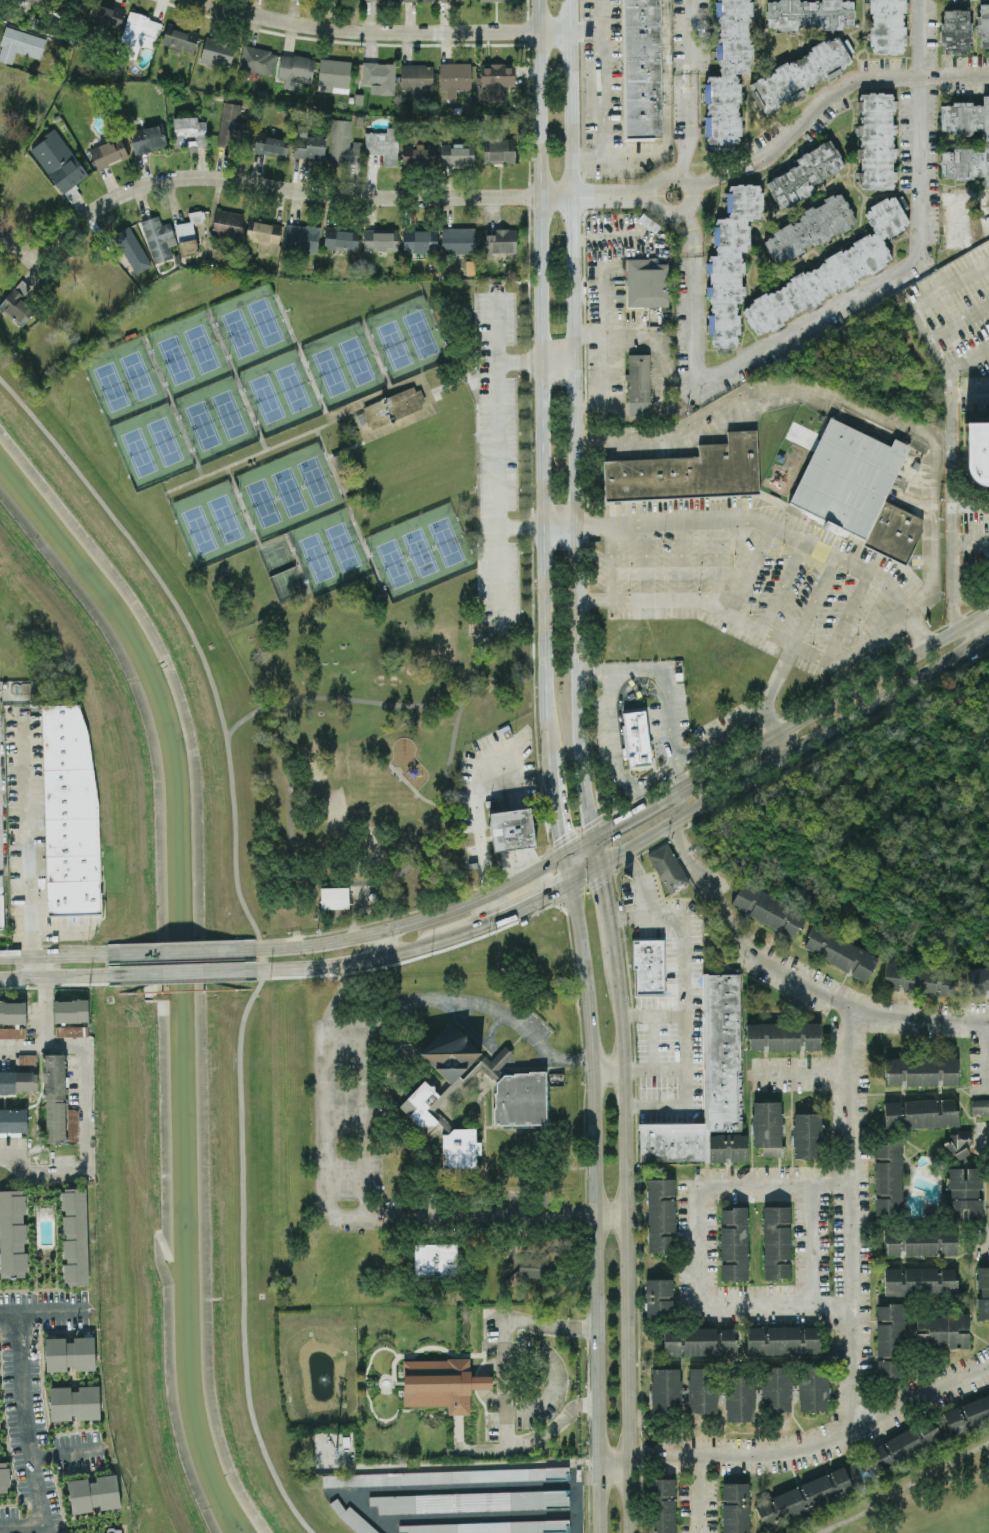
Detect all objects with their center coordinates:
building: (386, 0)
building: (418, 0)
building: (442, 0)
building: (495, 0)
building: (37, 1)
building: (810, 14)
building: (106, 15)
building: (983, 25)
building: (887, 26)
road: (385, 32)
road: (586, 32)
building: (956, 32)
building: (138, 34)
building: (180, 38)
building: (20, 44)
building: (216, 52)
building: (257, 60)
building: (644, 68)
building: (295, 70)
building: (802, 73)
building: (728, 74)
building: (334, 75)
building: (379, 77)
building: (417, 77)
building: (454, 78)
road: (602, 79)
road: (691, 87)
road: (829, 98)
building: (57, 118)
building: (231, 120)
road: (668, 123)
building: (189, 131)
building: (148, 138)
building: (986, 140)
building: (876, 141)
building: (270, 142)
building: (343, 144)
building: (383, 145)
building: (309, 146)
building: (499, 150)
building: (108, 153)
building: (418, 155)
building: (457, 155)
building: (60, 164)
building: (804, 175)
road: (642, 191)
road: (315, 194)
road: (640, 198)
road: (672, 215)
building: (960, 215)
building: (228, 223)
building: (808, 230)
building: (188, 234)
building: (264, 235)
road: (601, 236)
building: (158, 238)
building: (301, 238)
building: (341, 239)
building: (380, 240)
building: (458, 240)
building: (420, 241)
building: (501, 241)
building: (131, 249)
road: (28, 258)
building: (730, 263)
building: (830, 271)
building: (647, 283)
road: (604, 292)
road: (845, 298)
building: (17, 304)
road: (959, 320)
park: (406, 339)
road: (375, 356)
road: (943, 358)
road: (301, 359)
park: (265, 361)
road: (969, 361)
road: (534, 363)
park: (342, 367)
road: (607, 367)
building: (639, 379)
road: (236, 380)
road: (450, 382)
road: (539, 385)
park: (200, 387)
road: (971, 393)
road: (844, 401)
road: (356, 403)
road: (170, 407)
building: (392, 408)
park: (137, 415)
road: (572, 419)
parking lot: (495, 450)
building: (982, 451)
road: (496, 456)
building: (689, 473)
building: (849, 477)
road: (347, 510)
road: (416, 512)
park: (305, 517)
road: (742, 517)
park: (211, 525)
road: (461, 527)
road: (971, 542)
road: (257, 545)
road: (953, 552)
park: (418, 553)
park: (346, 555)
road: (681, 561)
road: (611, 562)
road: (645, 562)
road: (715, 562)
road: (751, 568)
park: (280, 572)
road: (784, 584)
road: (815, 600)
road: (847, 614)
road: (749, 624)
road: (969, 634)
road: (661, 680)
road: (337, 698)
road: (835, 700)
road: (768, 725)
road: (735, 728)
road: (829, 729)
building: (636, 737)
road: (781, 745)
road: (615, 756)
road: (411, 786)
road: (1, 795)
road: (2, 795)
road: (638, 799)
road: (478, 804)
road: (559, 812)
building: (70, 813)
road: (638, 813)
park: (882, 823)
building: (512, 828)
traffic signals: (594, 837)
road: (28, 839)
road: (580, 845)
road: (633, 846)
road: (596, 853)
traffic signals: (566, 854)
road: (568, 868)
building: (668, 868)
traffic signals: (599, 870)
road: (585, 876)
road: (388, 877)
road: (639, 882)
traffic signals: (571, 883)
building: (1, 902)
building: (335, 902)
building: (768, 909)
road: (609, 918)
road: (415, 921)
road: (254, 929)
road: (382, 943)
road: (416, 946)
road: (180, 950)
building: (841, 952)
road: (54, 955)
road: (39, 967)
building: (649, 967)
road: (179, 973)
road: (52, 978)
river: (176, 978)
road: (793, 978)
building: (919, 980)
building: (979, 980)
park: (168, 989)
road: (682, 1002)
road: (481, 1005)
building: (71, 1010)
road: (40, 1011)
building: (12, 1012)
road: (650, 1014)
parking lot: (534, 1022)
road: (491, 1030)
building: (69, 1031)
building: (12, 1032)
building: (784, 1036)
road: (653, 1041)
building: (452, 1053)
road: (493, 1053)
road: (984, 1054)
building: (27, 1060)
road: (652, 1069)
road: (608, 1071)
road: (800, 1071)
building: (921, 1071)
building: (18, 1082)
building: (709, 1089)
building: (55, 1098)
building: (521, 1100)
building: (980, 1106)
building: (423, 1107)
road: (329, 1111)
building: (920, 1113)
building: (12, 1119)
road: (78, 1127)
parking lot: (348, 1127)
building: (768, 1127)
building: (807, 1135)
road: (983, 1138)
road: (413, 1143)
building: (957, 1145)
building: (461, 1150)
road: (483, 1151)
building: (888, 1178)
building: (963, 1193)
road: (595, 1207)
road: (368, 1213)
building: (661, 1215)
road: (851, 1218)
building: (12, 1234)
building: (75, 1236)
road: (983, 1237)
building: (776, 1242)
road: (815, 1242)
building: (921, 1242)
road: (695, 1243)
building: (734, 1243)
road: (626, 1249)
building: (435, 1260)
building: (523, 1270)
building: (920, 1281)
building: (983, 1293)
building: (658, 1297)
road: (43, 1311)
building: (890, 1330)
building: (942, 1330)
building: (782, 1340)
building: (699, 1341)
building: (69, 1353)
building: (890, 1368)
road: (552, 1380)
building: (441, 1383)
road: (504, 1387)
building: (813, 1388)
building: (701, 1389)
building: (776, 1389)
building: (666, 1390)
building: (740, 1398)
building: (74, 1402)
building: (967, 1417)
road: (27, 1439)
road: (814, 1442)
building: (904, 1446)
road: (66, 1451)
road: (614, 1460)
road: (479, 1465)
building: (4, 1476)
building: (445, 1476)
road: (475, 1486)
building: (93, 1493)
road: (698, 1495)
building: (809, 1495)
park: (923, 1498)
building: (470, 1501)
building: (661, 1505)
building: (735, 1508)
road: (370, 1514)
road: (476, 1516)
building: (351, 1517)
building: (489, 1527)
building: (114, 1530)

